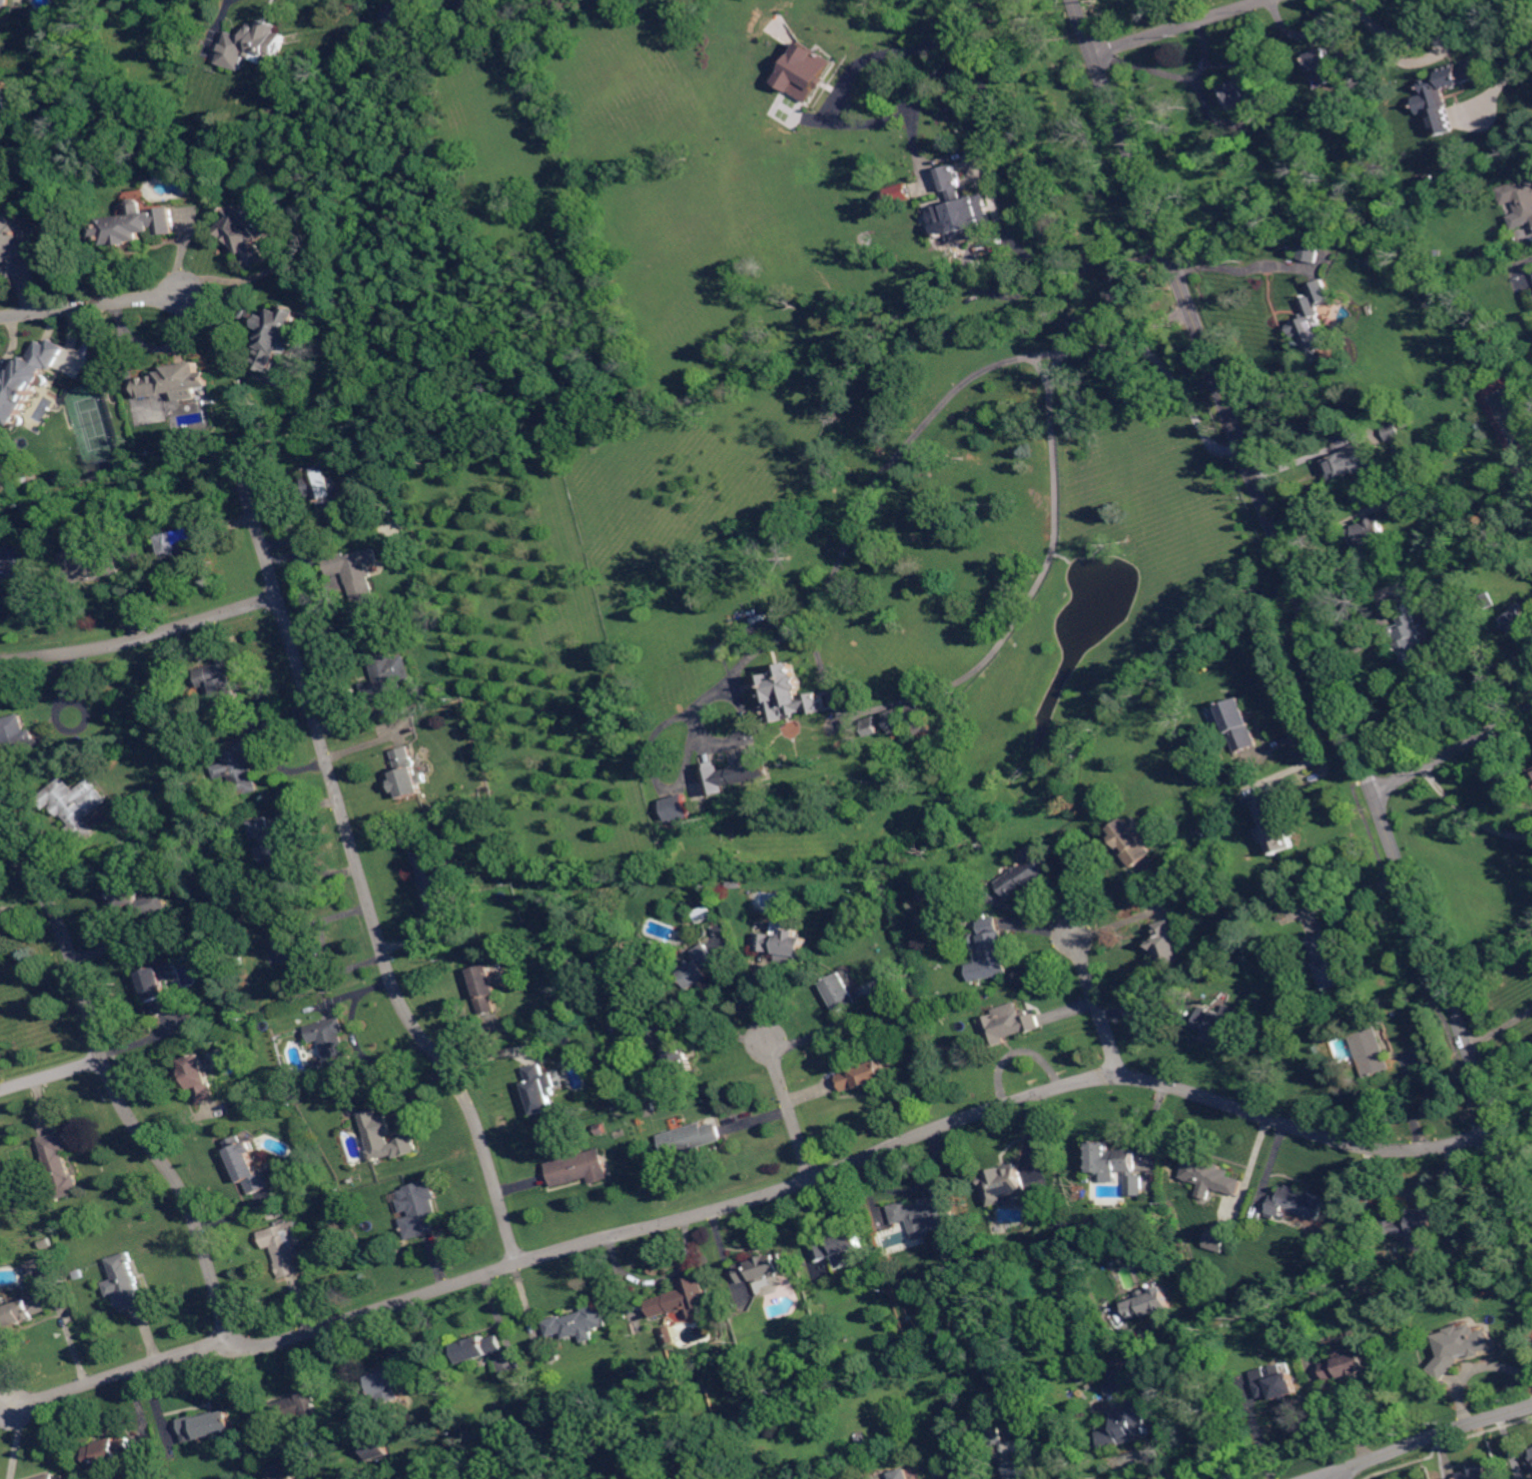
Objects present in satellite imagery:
building: (5, 2)
building: (476, 7)
building: (404, 15)
road: (1178, 26)
building: (255, 44)
road: (1390, 47)
building: (1320, 63)
building: (805, 71)
road: (983, 72)
road: (1184, 75)
building: (1456, 75)
road: (1501, 81)
building: (1246, 92)
building: (1354, 92)
building: (4, 105)
road: (841, 108)
building: (1441, 120)
building: (0, 132)
building: (161, 172)
building: (1430, 181)
building: (900, 193)
building: (1519, 198)
building: (967, 207)
building: (137, 224)
building: (248, 234)
road: (1008, 243)
building: (16, 244)
building: (1309, 252)
building: (1379, 260)
road: (1243, 268)
road: (93, 304)
building: (1314, 323)
building: (277, 336)
building: (27, 379)
building: (177, 381)
building: (1392, 431)
road: (898, 453)
building: (1348, 461)
building: (1524, 465)
building: (324, 489)
building: (1410, 496)
building: (1367, 531)
road: (1055, 536)
building: (177, 542)
building: (13, 565)
building: (90, 565)
building: (356, 571)
building: (1487, 600)
road: (1305, 611)
building: (1518, 619)
building: (1408, 635)
road: (140, 636)
building: (385, 670)
building: (220, 681)
building: (790, 689)
building: (895, 719)
building: (921, 719)
building: (1239, 725)
building: (874, 726)
building: (19, 740)
road: (1452, 749)
building: (239, 764)
road: (1303, 764)
building: (1531, 771)
building: (407, 773)
building: (727, 776)
building: (1531, 779)
building: (74, 804)
building: (676, 812)
road: (1470, 813)
building: (1275, 827)
building: (1133, 841)
building: (274, 855)
building: (1031, 871)
building: (434, 879)
road: (361, 880)
road: (1103, 893)
road: (1357, 893)
building: (137, 895)
building: (704, 914)
building: (784, 940)
building: (1167, 943)
building: (992, 952)
building: (310, 959)
building: (1327, 961)
building: (700, 966)
building: (157, 987)
building: (485, 988)
building: (839, 992)
road: (1098, 1005)
building: (1217, 1023)
building: (1009, 1025)
road: (1499, 1025)
building: (920, 1030)
building: (330, 1046)
building: (1371, 1051)
building: (677, 1052)
building: (570, 1060)
road: (52, 1074)
building: (864, 1076)
building: (199, 1077)
building: (541, 1089)
road: (116, 1092)
road: (791, 1109)
building: (651, 1110)
building: (602, 1130)
building: (384, 1137)
building: (691, 1139)
road: (864, 1158)
building: (1111, 1160)
building: (59, 1165)
building: (247, 1165)
building: (581, 1168)
building: (1209, 1177)
building: (1004, 1183)
building: (1135, 1185)
building: (1296, 1202)
building: (420, 1209)
building: (926, 1213)
building: (1412, 1229)
building: (1215, 1239)
building: (282, 1246)
building: (839, 1246)
building: (38, 1267)
building: (762, 1268)
building: (126, 1281)
building: (683, 1299)
building: (1150, 1303)
building: (22, 1310)
building: (580, 1323)
road: (1156, 1324)
building: (1069, 1328)
building: (671, 1335)
building: (480, 1348)
building: (1456, 1348)
building: (1347, 1364)
road: (120, 1372)
building: (389, 1382)
building: (1116, 1383)
building: (1274, 1384)
building: (296, 1407)
road: (1197, 1414)
building: (206, 1425)
building: (1127, 1425)
building: (555, 1431)
building: (994, 1437)
road: (1418, 1442)
building: (864, 1443)
building: (376, 1448)
building: (107, 1452)
road: (1143, 1456)
building: (1529, 1458)
building: (1018, 1467)
building: (285, 1471)
building: (907, 1473)
building: (1474, 1473)
building: (380, 1474)
building: (966, 1474)
road: (1334, 1474)
building: (49, 1477)
building: (61, 1478)

